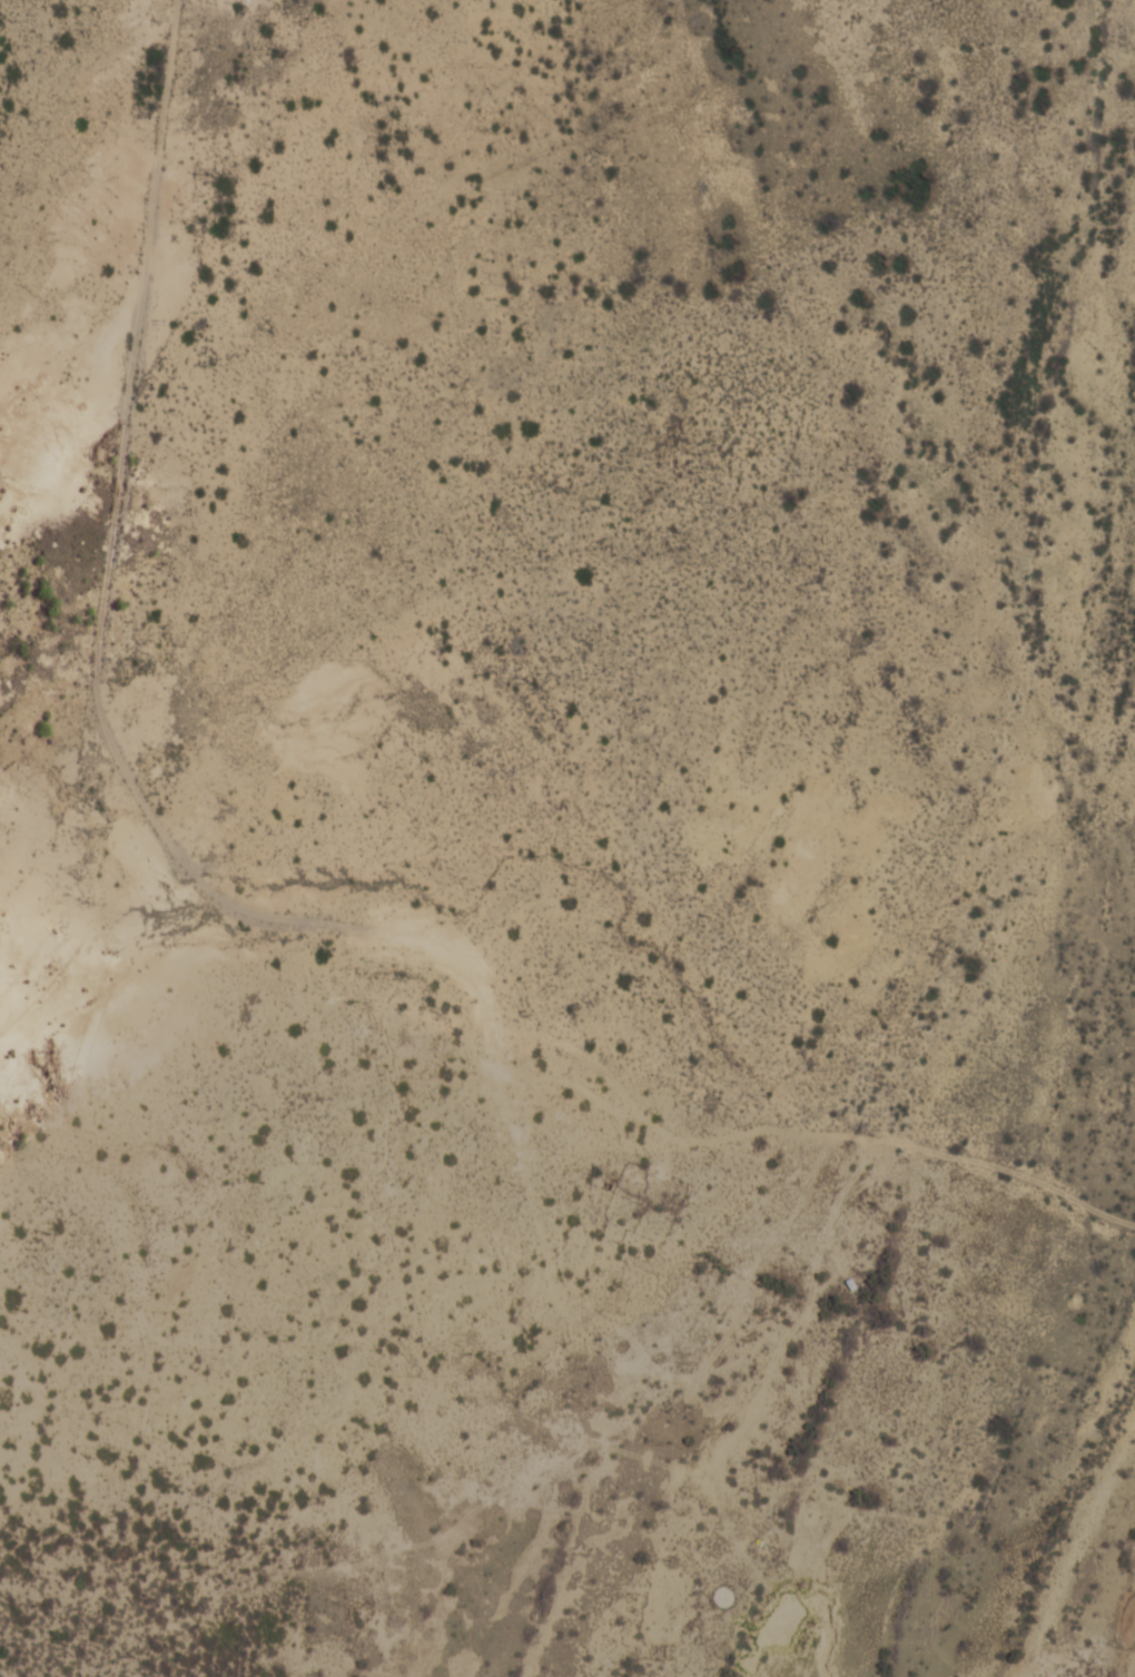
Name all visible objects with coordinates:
road: (121, 897)
road: (264, 919)

